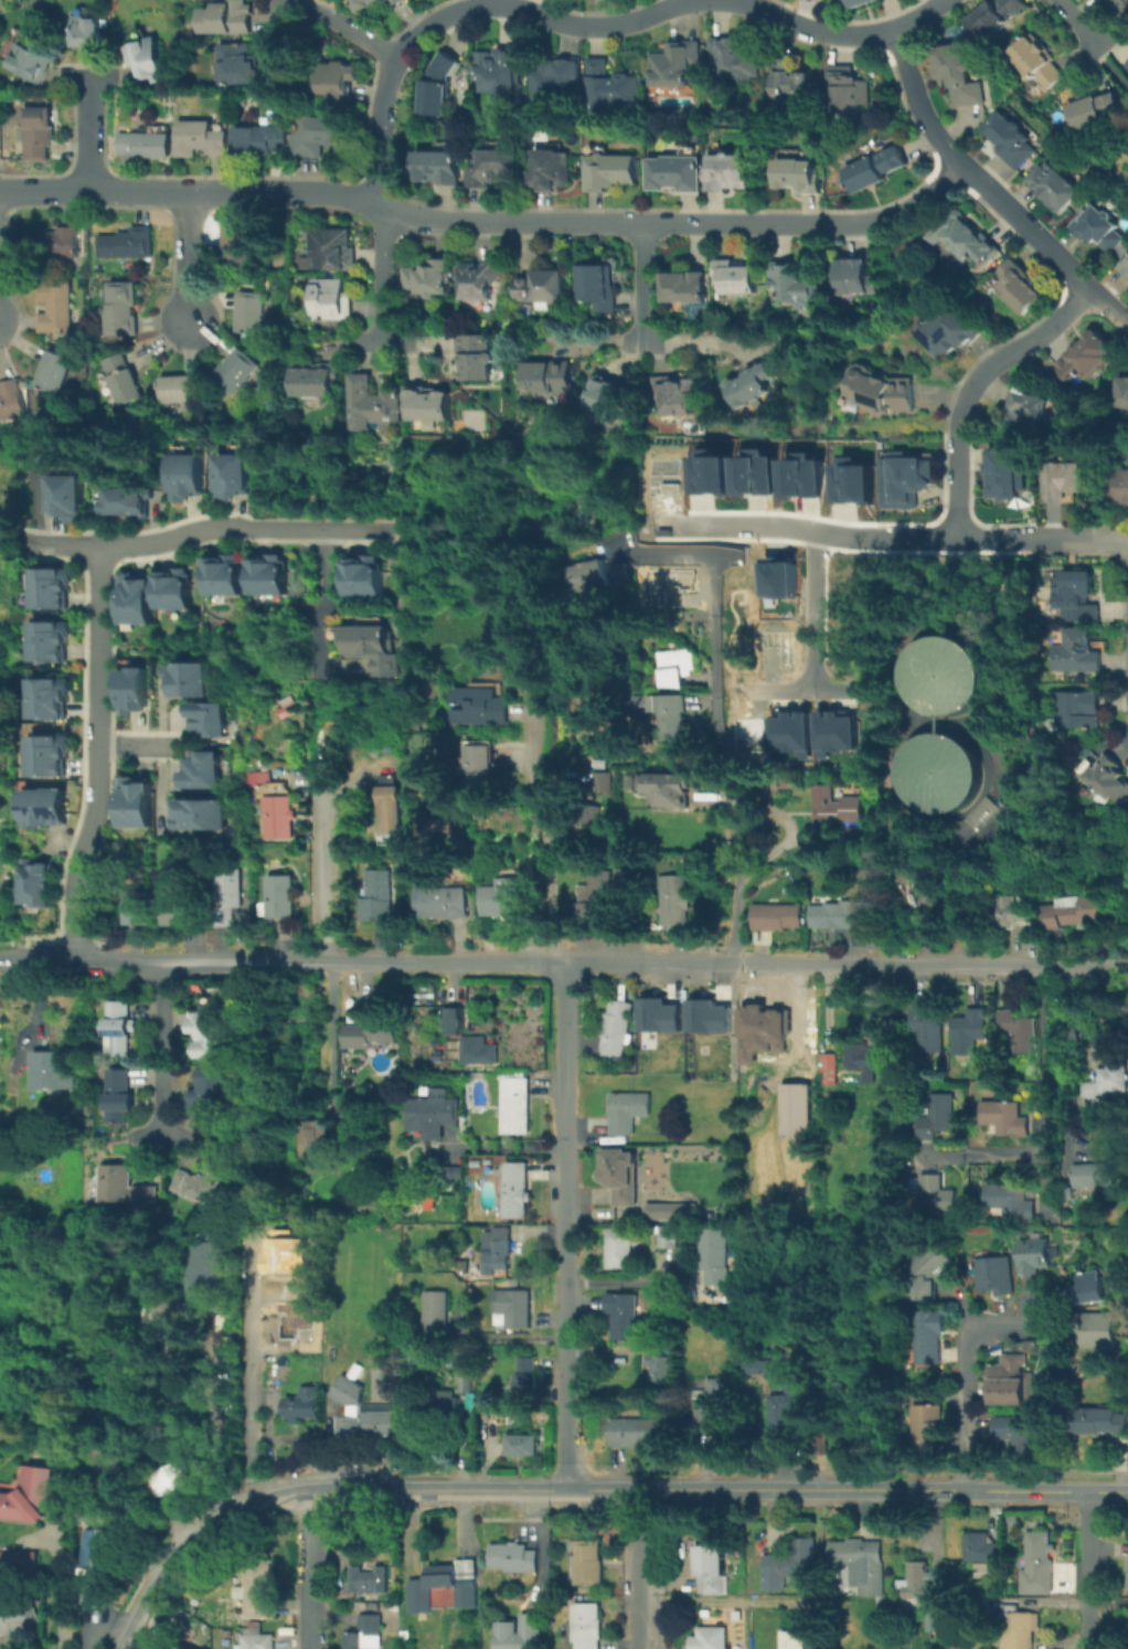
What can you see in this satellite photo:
road: (470, 2)
building: (865, 3)
building: (375, 4)
building: (1121, 8)
road: (276, 13)
building: (998, 17)
building: (228, 19)
road: (337, 21)
road: (1082, 22)
road: (836, 31)
building: (86, 32)
building: (147, 57)
building: (735, 61)
building: (28, 62)
building: (237, 64)
building: (1037, 64)
building: (677, 65)
building: (1127, 66)
building: (446, 67)
building: (502, 72)
building: (958, 76)
building: (558, 79)
building: (792, 81)
building: (338, 82)
building: (610, 88)
building: (849, 89)
building: (433, 99)
building: (1094, 111)
road: (95, 124)
building: (36, 131)
building: (322, 137)
building: (201, 140)
building: (1013, 140)
building: (259, 141)
building: (147, 143)
building: (440, 168)
building: (492, 169)
building: (879, 170)
building: (550, 172)
building: (610, 172)
building: (674, 173)
building: (728, 173)
building: (798, 175)
building: (1054, 188)
road: (986, 190)
road: (143, 193)
road: (631, 223)
building: (1098, 231)
building: (968, 240)
building: (50, 242)
building: (127, 245)
building: (240, 247)
building: (331, 249)
road: (181, 268)
building: (1124, 268)
road: (376, 276)
building: (855, 277)
building: (429, 278)
building: (736, 278)
building: (481, 280)
building: (790, 283)
building: (685, 287)
building: (543, 288)
building: (599, 288)
building: (1021, 288)
building: (333, 301)
building: (55, 307)
building: (124, 310)
road: (645, 311)
building: (254, 315)
building: (948, 333)
road: (374, 343)
road: (1008, 350)
building: (479, 358)
building: (1088, 358)
building: (54, 369)
building: (236, 372)
building: (551, 379)
building: (125, 380)
building: (317, 380)
building: (752, 385)
building: (183, 390)
building: (1122, 390)
building: (881, 392)
building: (608, 396)
building: (675, 396)
building: (10, 398)
building: (371, 405)
building: (429, 405)
building: (1030, 408)
building: (1005, 470)
building: (234, 472)
building: (189, 475)
building: (677, 475)
building: (720, 476)
building: (763, 476)
building: (807, 476)
building: (850, 476)
building: (905, 479)
road: (951, 481)
building: (1064, 482)
building: (1119, 486)
building: (67, 498)
building: (127, 502)
road: (322, 528)
road: (847, 534)
road: (1081, 538)
road: (135, 544)
road: (675, 553)
building: (226, 576)
building: (269, 576)
building: (366, 577)
building: (605, 577)
building: (776, 579)
building: (50, 588)
building: (175, 591)
road: (322, 594)
building: (1077, 596)
building: (138, 599)
building: (681, 599)
road: (817, 608)
building: (50, 641)
building: (369, 646)
building: (774, 646)
building: (1077, 653)
building: (684, 670)
building: (946, 674)
storage tank: (946, 674)
building: (192, 680)
road: (807, 689)
building: (136, 691)
building: (49, 699)
building: (483, 705)
building: (292, 708)
building: (1075, 710)
building: (674, 715)
building: (212, 720)
building: (751, 728)
building: (792, 730)
building: (838, 730)
road: (131, 745)
road: (94, 753)
building: (46, 755)
road: (728, 758)
building: (606, 763)
building: (485, 770)
building: (205, 772)
building: (938, 772)
storage tank: (938, 772)
building: (610, 778)
building: (1108, 779)
building: (673, 780)
building: (137, 804)
building: (392, 805)
building: (45, 808)
building: (841, 808)
building: (278, 812)
building: (200, 816)
building: (596, 816)
road: (545, 829)
road: (321, 852)
building: (41, 884)
building: (926, 886)
building: (597, 892)
building: (379, 895)
building: (281, 897)
building: (509, 897)
building: (226, 898)
building: (446, 903)
building: (674, 905)
building: (179, 907)
building: (137, 911)
building: (1014, 912)
building: (1074, 915)
building: (777, 916)
building: (837, 916)
road: (563, 960)
road: (31, 1012)
building: (657, 1013)
building: (705, 1015)
building: (455, 1022)
building: (615, 1029)
building: (971, 1029)
building: (121, 1030)
building: (927, 1031)
building: (1019, 1032)
building: (783, 1034)
building: (210, 1035)
building: (370, 1035)
road: (329, 1040)
road: (161, 1045)
building: (477, 1051)
building: (866, 1061)
building: (49, 1067)
building: (828, 1070)
building: (1113, 1077)
building: (209, 1091)
building: (124, 1092)
building: (515, 1106)
building: (797, 1110)
building: (628, 1111)
road: (1054, 1113)
building: (433, 1114)
building: (938, 1117)
building: (1004, 1117)
road: (162, 1130)
building: (315, 1139)
road: (501, 1145)
building: (624, 1174)
building: (1088, 1178)
building: (733, 1182)
building: (201, 1187)
building: (124, 1189)
building: (518, 1192)
building: (935, 1195)
building: (1010, 1201)
building: (668, 1210)
road: (565, 1224)
building: (668, 1237)
building: (498, 1247)
building: (618, 1253)
building: (714, 1256)
building: (1033, 1256)
building: (276, 1267)
building: (930, 1276)
building: (993, 1278)
building: (212, 1279)
road: (626, 1280)
building: (1090, 1288)
building: (512, 1309)
building: (622, 1315)
building: (279, 1316)
building: (435, 1318)
building: (1097, 1331)
building: (930, 1338)
building: (755, 1364)
building: (663, 1366)
building: (1009, 1374)
road: (965, 1376)
building: (525, 1380)
building: (467, 1383)
road: (251, 1384)
building: (787, 1384)
building: (349, 1389)
building: (299, 1404)
building: (712, 1404)
building: (448, 1405)
building: (783, 1412)
road: (213, 1417)
building: (1102, 1421)
building: (370, 1424)
building: (1009, 1428)
building: (927, 1430)
building: (635, 1432)
building: (521, 1446)
building: (175, 1479)
building: (127, 1480)
road: (568, 1488)
road: (1108, 1490)
building: (29, 1494)
building: (982, 1547)
road: (540, 1553)
building: (514, 1558)
building: (710, 1561)
building: (1041, 1561)
building: (18, 1563)
building: (587, 1564)
building: (862, 1564)
building: (99, 1566)
road: (635, 1567)
building: (788, 1567)
road: (308, 1570)
road: (1088, 1570)
building: (1127, 1576)
building: (366, 1579)
road: (53, 1581)
building: (916, 1582)
building: (444, 1587)
building: (258, 1591)
road: (1043, 1598)
building: (938, 1611)
building: (17, 1615)
building: (588, 1625)
building: (533, 1629)
building: (1017, 1629)
building: (794, 1638)
building: (712, 1639)
building: (258, 1641)
building: (361, 1641)
building: (812, 1641)
building: (185, 1647)

